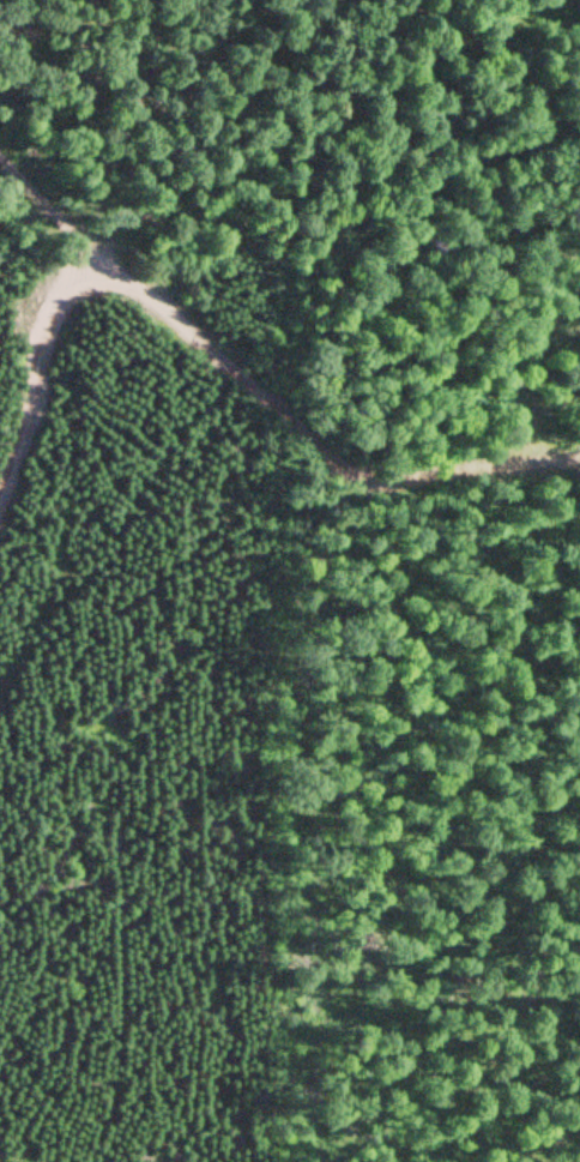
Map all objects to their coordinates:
road: (467, 29)
road: (226, 362)

